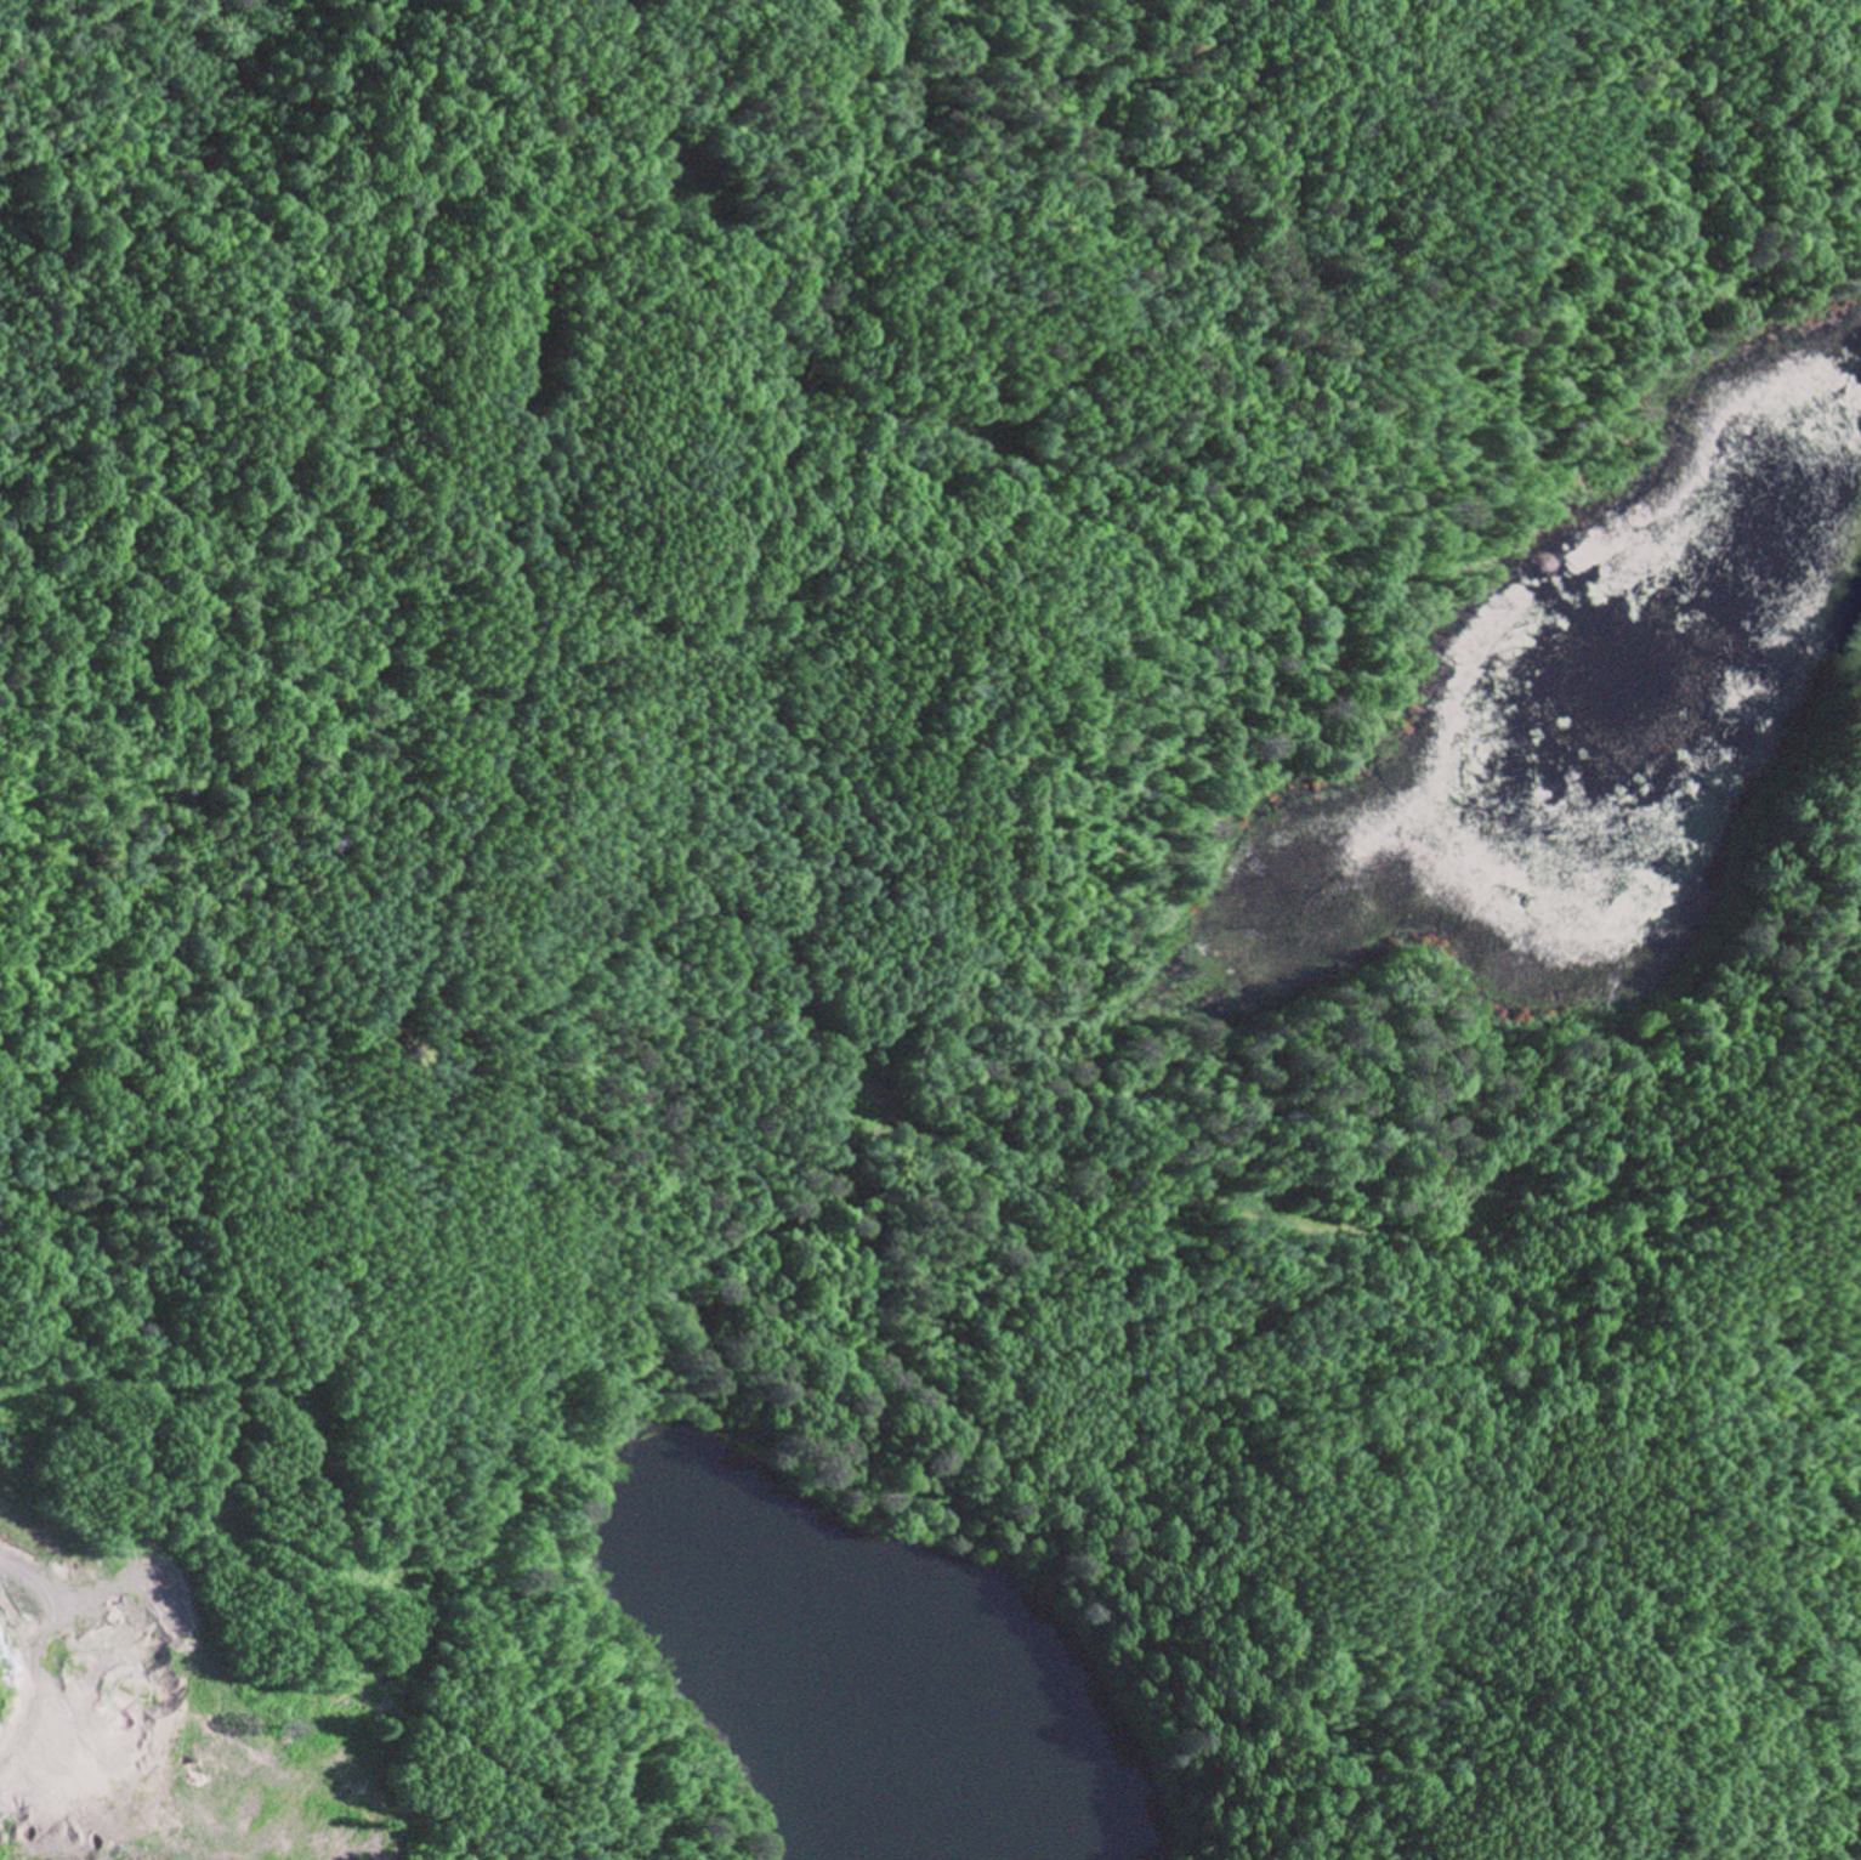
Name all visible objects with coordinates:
road: (782, 972)
road: (63, 1603)
quarry: (276, 1617)
quarry: (152, 1706)

